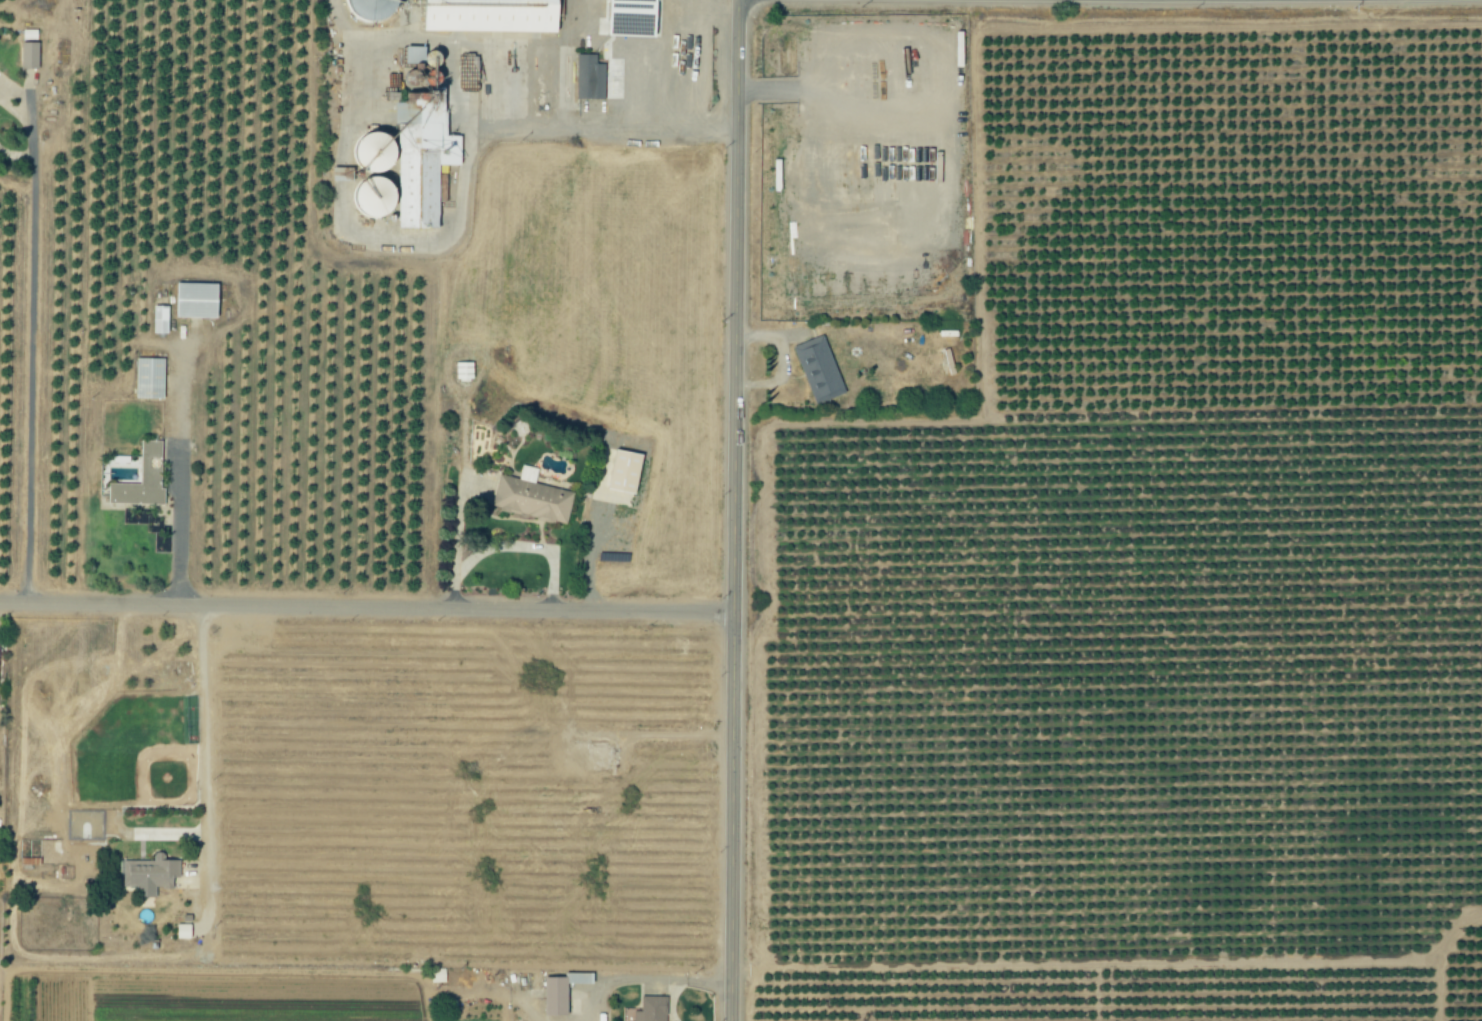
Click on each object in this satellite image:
building: (369, 9)
building: (489, 16)
building: (631, 18)
building: (30, 56)
building: (590, 78)
road: (635, 132)
building: (372, 153)
building: (422, 157)
building: (370, 198)
building: (196, 301)
building: (160, 320)
road: (32, 351)
building: (819, 371)
building: (150, 379)
building: (622, 478)
building: (142, 481)
building: (533, 498)
road: (742, 510)
road: (180, 531)
road: (508, 547)
road: (370, 610)
road: (161, 835)
building: (150, 874)
building: (183, 931)
building: (438, 975)
building: (580, 978)
building: (555, 996)
building: (653, 1009)

